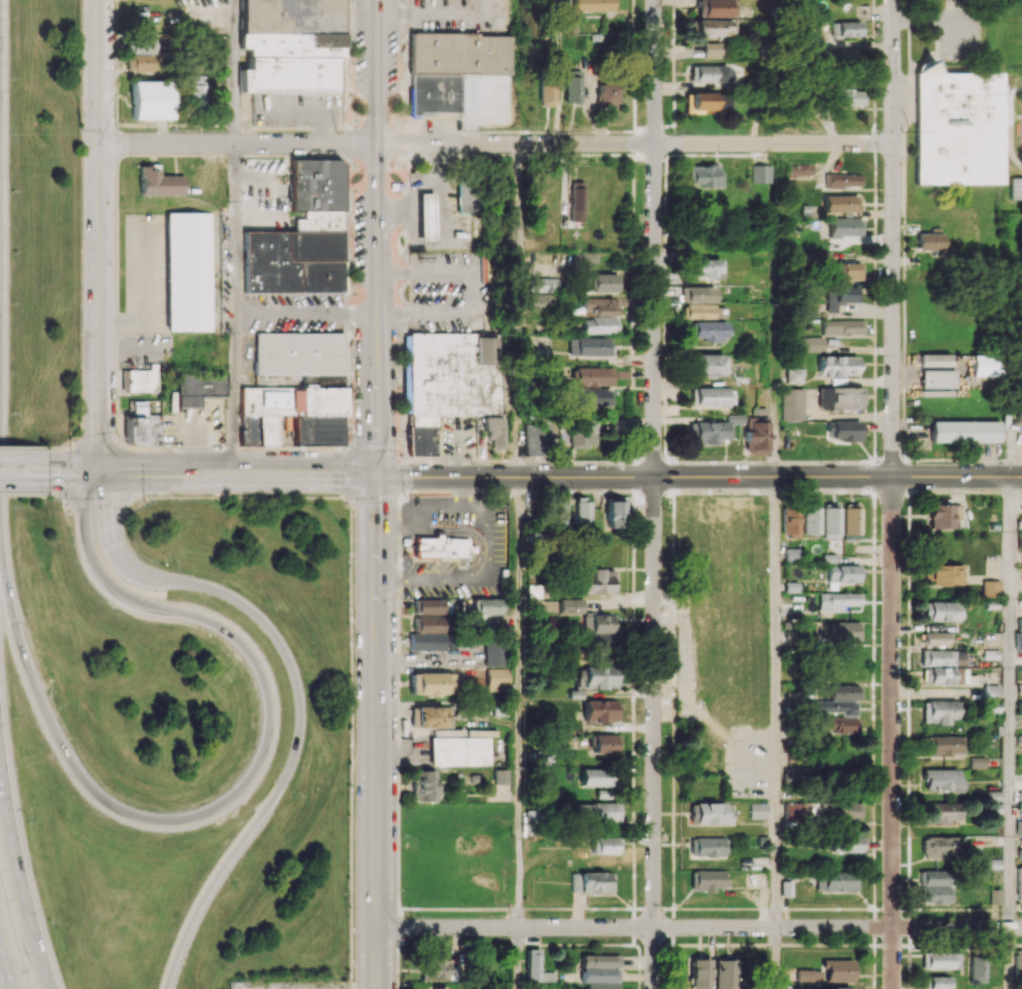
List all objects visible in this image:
building: (588, 5)
building: (713, 8)
building: (711, 27)
building: (846, 28)
parking lot: (957, 33)
building: (291, 44)
building: (140, 45)
building: (709, 50)
building: (843, 57)
building: (141, 62)
building: (453, 67)
building: (708, 73)
building: (569, 86)
building: (198, 91)
building: (544, 91)
building: (603, 94)
building: (848, 98)
building: (151, 100)
building: (705, 101)
building: (955, 128)
park: (1021, 128)
road: (634, 143)
road: (238, 144)
building: (799, 169)
building: (760, 173)
building: (704, 175)
building: (841, 180)
building: (158, 182)
building: (1014, 188)
building: (473, 196)
building: (576, 201)
building: (840, 203)
building: (426, 217)
building: (845, 227)
road: (98, 235)
road: (234, 236)
building: (301, 237)
road: (377, 237)
road: (893, 237)
road: (654, 238)
building: (930, 242)
building: (830, 266)
building: (705, 268)
building: (189, 271)
building: (603, 283)
building: (541, 284)
road: (477, 287)
building: (698, 294)
building: (840, 296)
building: (537, 301)
building: (600, 306)
road: (777, 309)
road: (519, 310)
building: (702, 311)
road: (305, 312)
building: (599, 325)
building: (843, 327)
building: (709, 330)
building: (813, 344)
building: (589, 346)
building: (298, 353)
building: (935, 359)
building: (707, 364)
building: (837, 365)
building: (984, 365)
building: (795, 375)
building: (592, 376)
building: (937, 378)
building: (139, 379)
building: (449, 383)
building: (199, 388)
building: (713, 396)
building: (592, 398)
building: (840, 398)
building: (793, 404)
building: (298, 410)
building: (142, 426)
building: (712, 429)
building: (248, 430)
building: (844, 430)
building: (496, 431)
building: (964, 431)
building: (585, 432)
building: (756, 436)
road: (373, 444)
road: (345, 445)
road: (200, 447)
road: (30, 448)
road: (405, 448)
road: (24, 471)
road: (73, 472)
traffic signals: (98, 472)
road: (237, 473)
traffic signals: (376, 474)
road: (698, 476)
road: (24, 494)
road: (59, 494)
road: (105, 494)
road: (242, 497)
road: (363, 497)
road: (436, 503)
road: (483, 510)
building: (581, 512)
building: (612, 512)
building: (556, 514)
building: (943, 515)
building: (810, 519)
building: (790, 521)
building: (830, 521)
building: (851, 523)
road: (398, 524)
building: (1020, 541)
building: (441, 548)
building: (792, 555)
building: (830, 558)
road: (489, 565)
building: (943, 574)
building: (842, 575)
road: (429, 578)
building: (598, 581)
building: (991, 588)
building: (531, 591)
building: (837, 600)
building: (569, 605)
building: (487, 606)
building: (942, 611)
building: (429, 615)
building: (597, 623)
building: (840, 632)
building: (936, 638)
building: (427, 641)
building: (1018, 641)
building: (495, 652)
building: (944, 657)
road: (423, 658)
building: (950, 675)
building: (598, 677)
building: (498, 679)
building: (431, 683)
building: (991, 692)
road: (299, 694)
building: (838, 700)
road: (521, 701)
road: (778, 701)
road: (1011, 701)
building: (1019, 707)
building: (601, 711)
building: (940, 711)
building: (432, 717)
building: (839, 724)
road: (377, 731)
road: (654, 732)
road: (893, 732)
building: (605, 743)
building: (943, 745)
building: (461, 747)
building: (977, 762)
building: (799, 775)
building: (502, 776)
building: (596, 777)
building: (942, 779)
building: (425, 786)
road: (239, 791)
building: (1020, 795)
building: (757, 810)
building: (792, 810)
building: (845, 810)
building: (595, 811)
building: (708, 812)
building: (941, 812)
building: (1018, 827)
building: (846, 843)
building: (606, 845)
building: (707, 846)
building: (940, 847)
building: (1019, 853)
road: (19, 879)
building: (707, 880)
building: (835, 881)
building: (591, 882)
building: (1019, 882)
building: (934, 886)
building: (994, 895)
road: (699, 927)
road: (521, 958)
road: (778, 958)
road: (1011, 958)
building: (939, 960)
building: (536, 968)
building: (599, 968)
building: (436, 969)
building: (976, 971)
building: (827, 972)
building: (699, 974)
building: (726, 974)
road: (3, 976)
road: (3, 981)
building: (938, 982)
building: (600, 986)
building: (835, 988)

